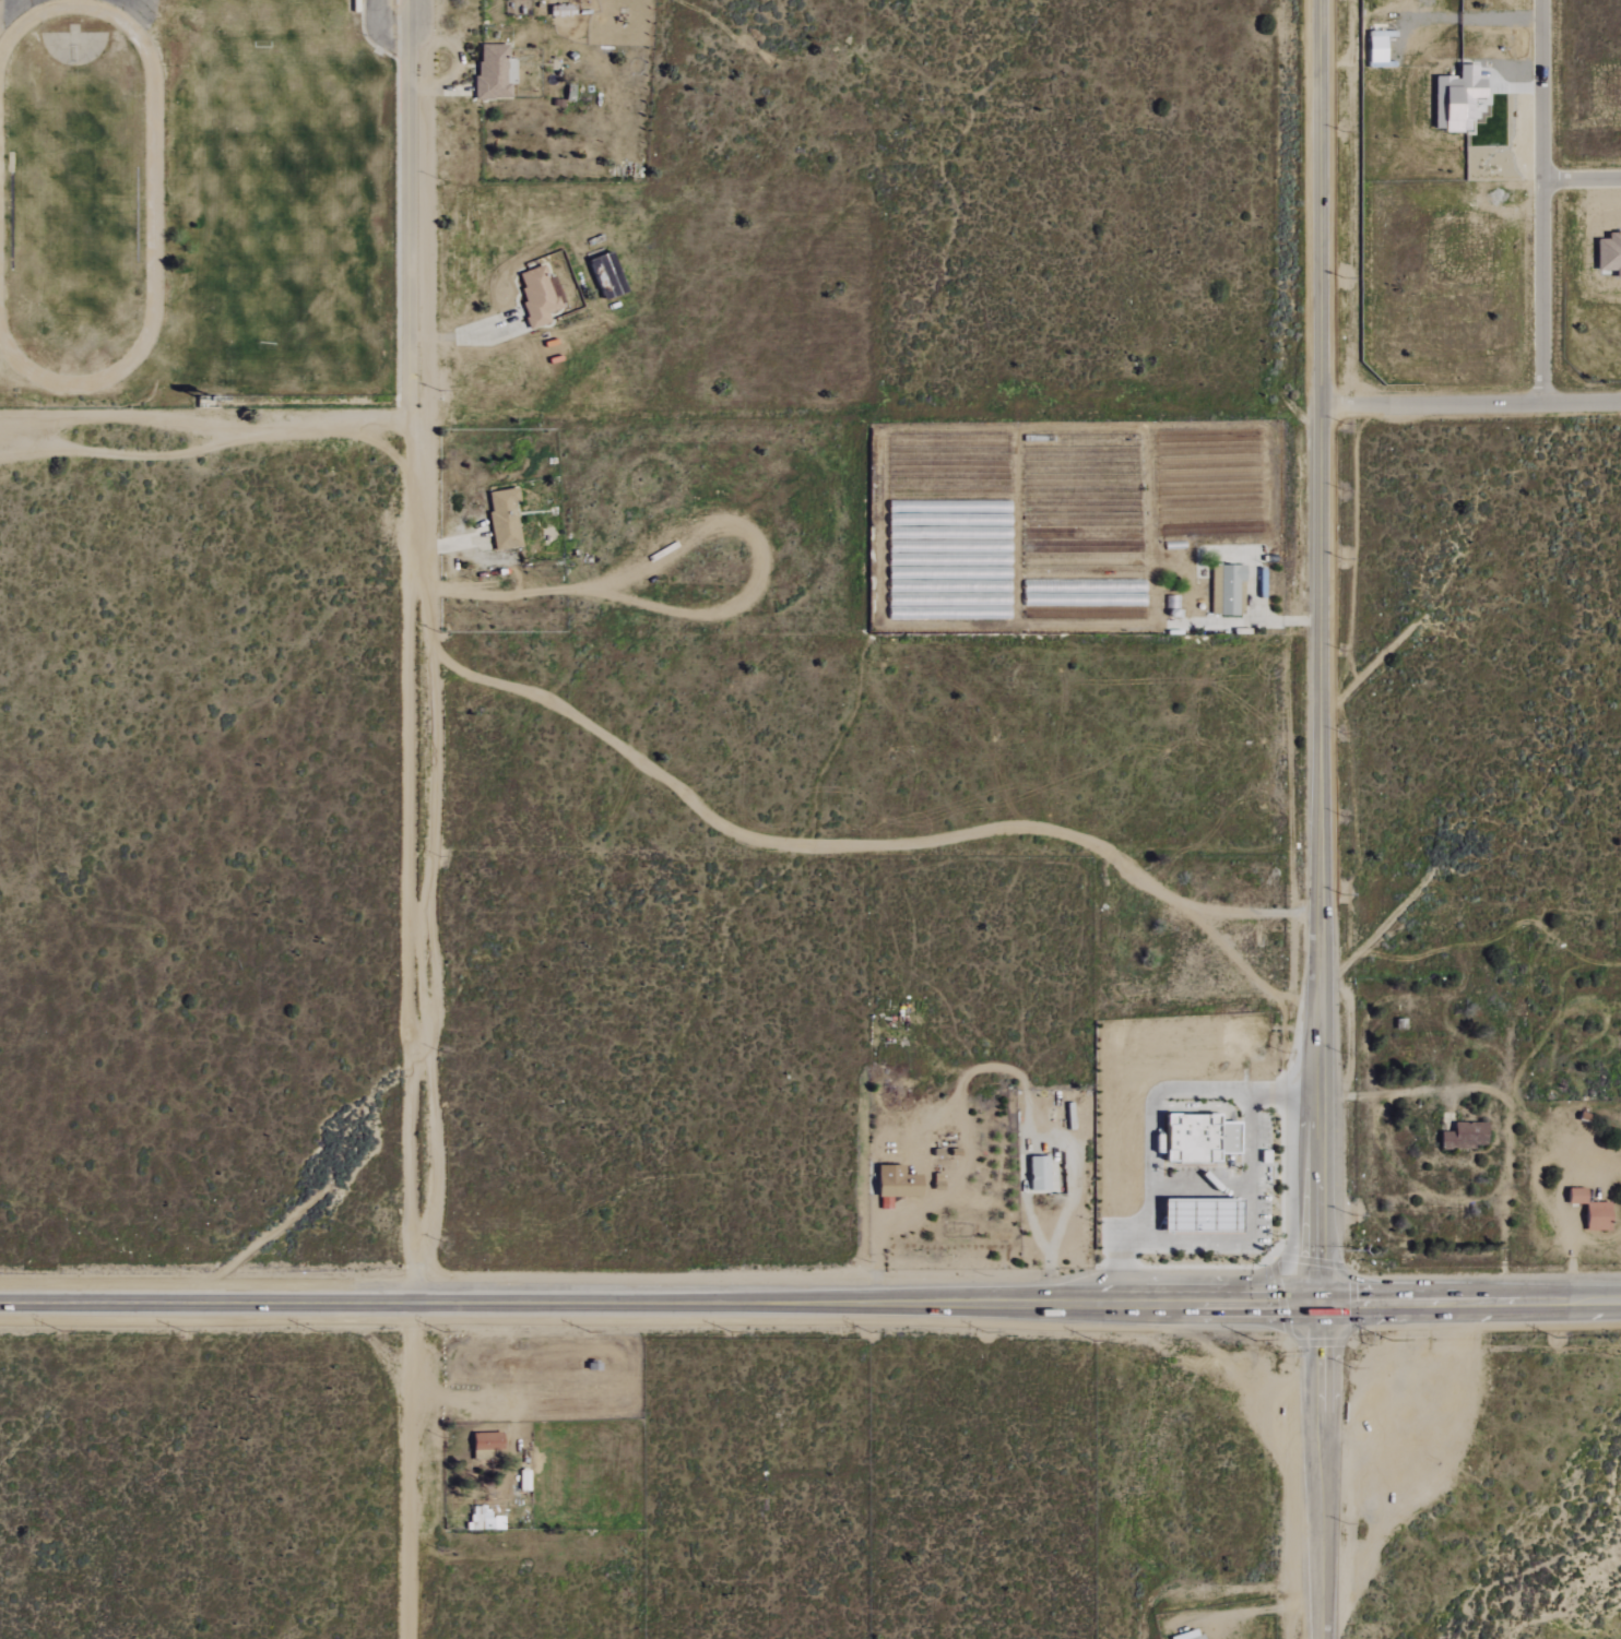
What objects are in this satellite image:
road: (382, 28)
building: (492, 73)
building: (1454, 98)
road: (1582, 180)
road: (1542, 202)
road: (406, 209)
building: (1608, 253)
building: (537, 296)
road: (1472, 405)
road: (203, 424)
road: (441, 543)
road: (447, 587)
building: (1229, 590)
road: (1265, 616)
road: (1322, 652)
road: (416, 1029)
road: (1152, 1118)
building: (1463, 1136)
building: (1195, 1139)
road: (1025, 1149)
building: (1036, 1174)
building: (894, 1183)
road: (1200, 1186)
building: (1573, 1196)
building: (1196, 1215)
building: (1594, 1216)
road: (1246, 1225)
road: (876, 1248)
road: (1469, 1303)
road: (660, 1305)
traffic signals: (1320, 1305)
road: (509, 1415)
road: (1320, 1472)
road: (1267, 1608)
building: (1185, 1636)

